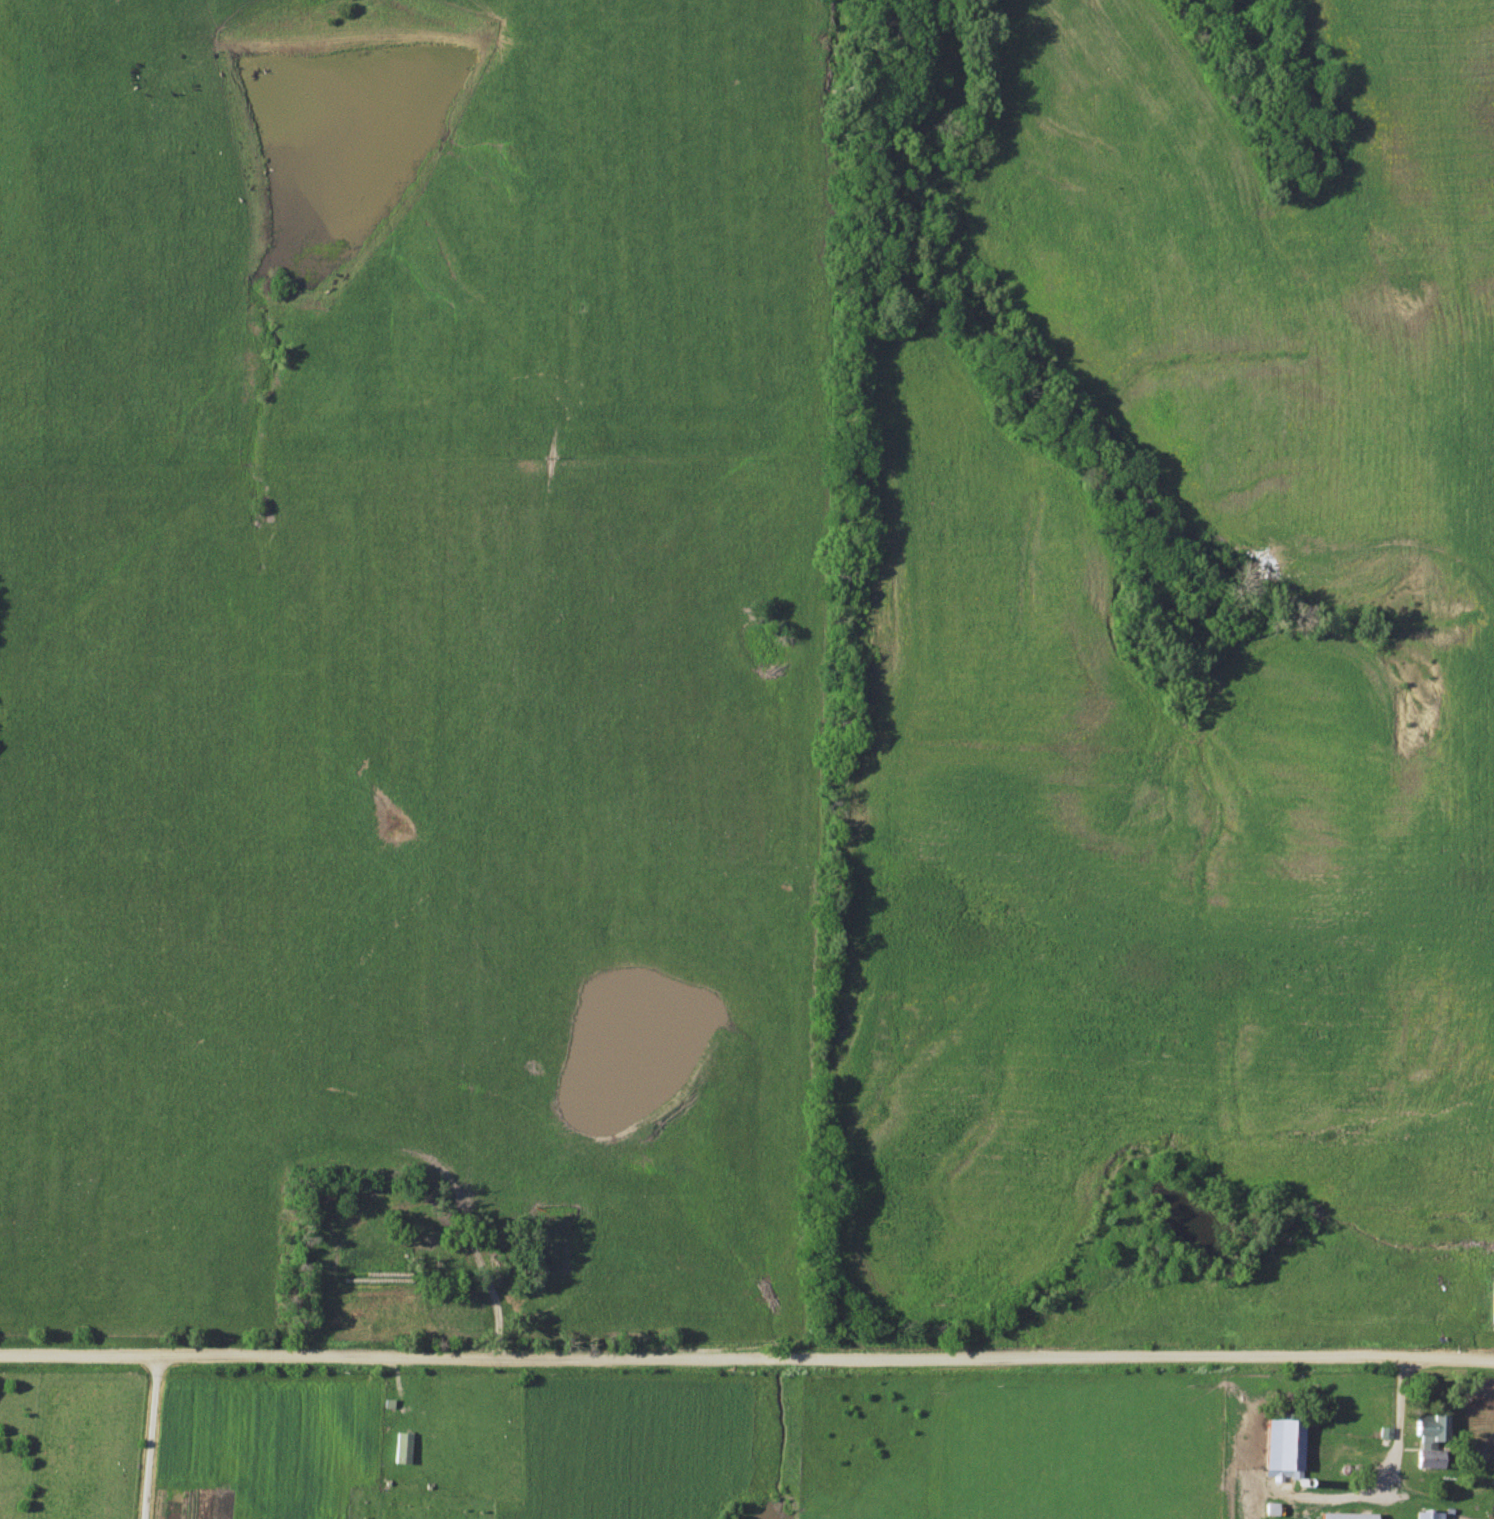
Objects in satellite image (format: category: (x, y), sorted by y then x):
building: (1488, 1305)
road: (746, 1356)
building: (1276, 1444)
building: (1340, 1515)
building: (1419, 1515)

